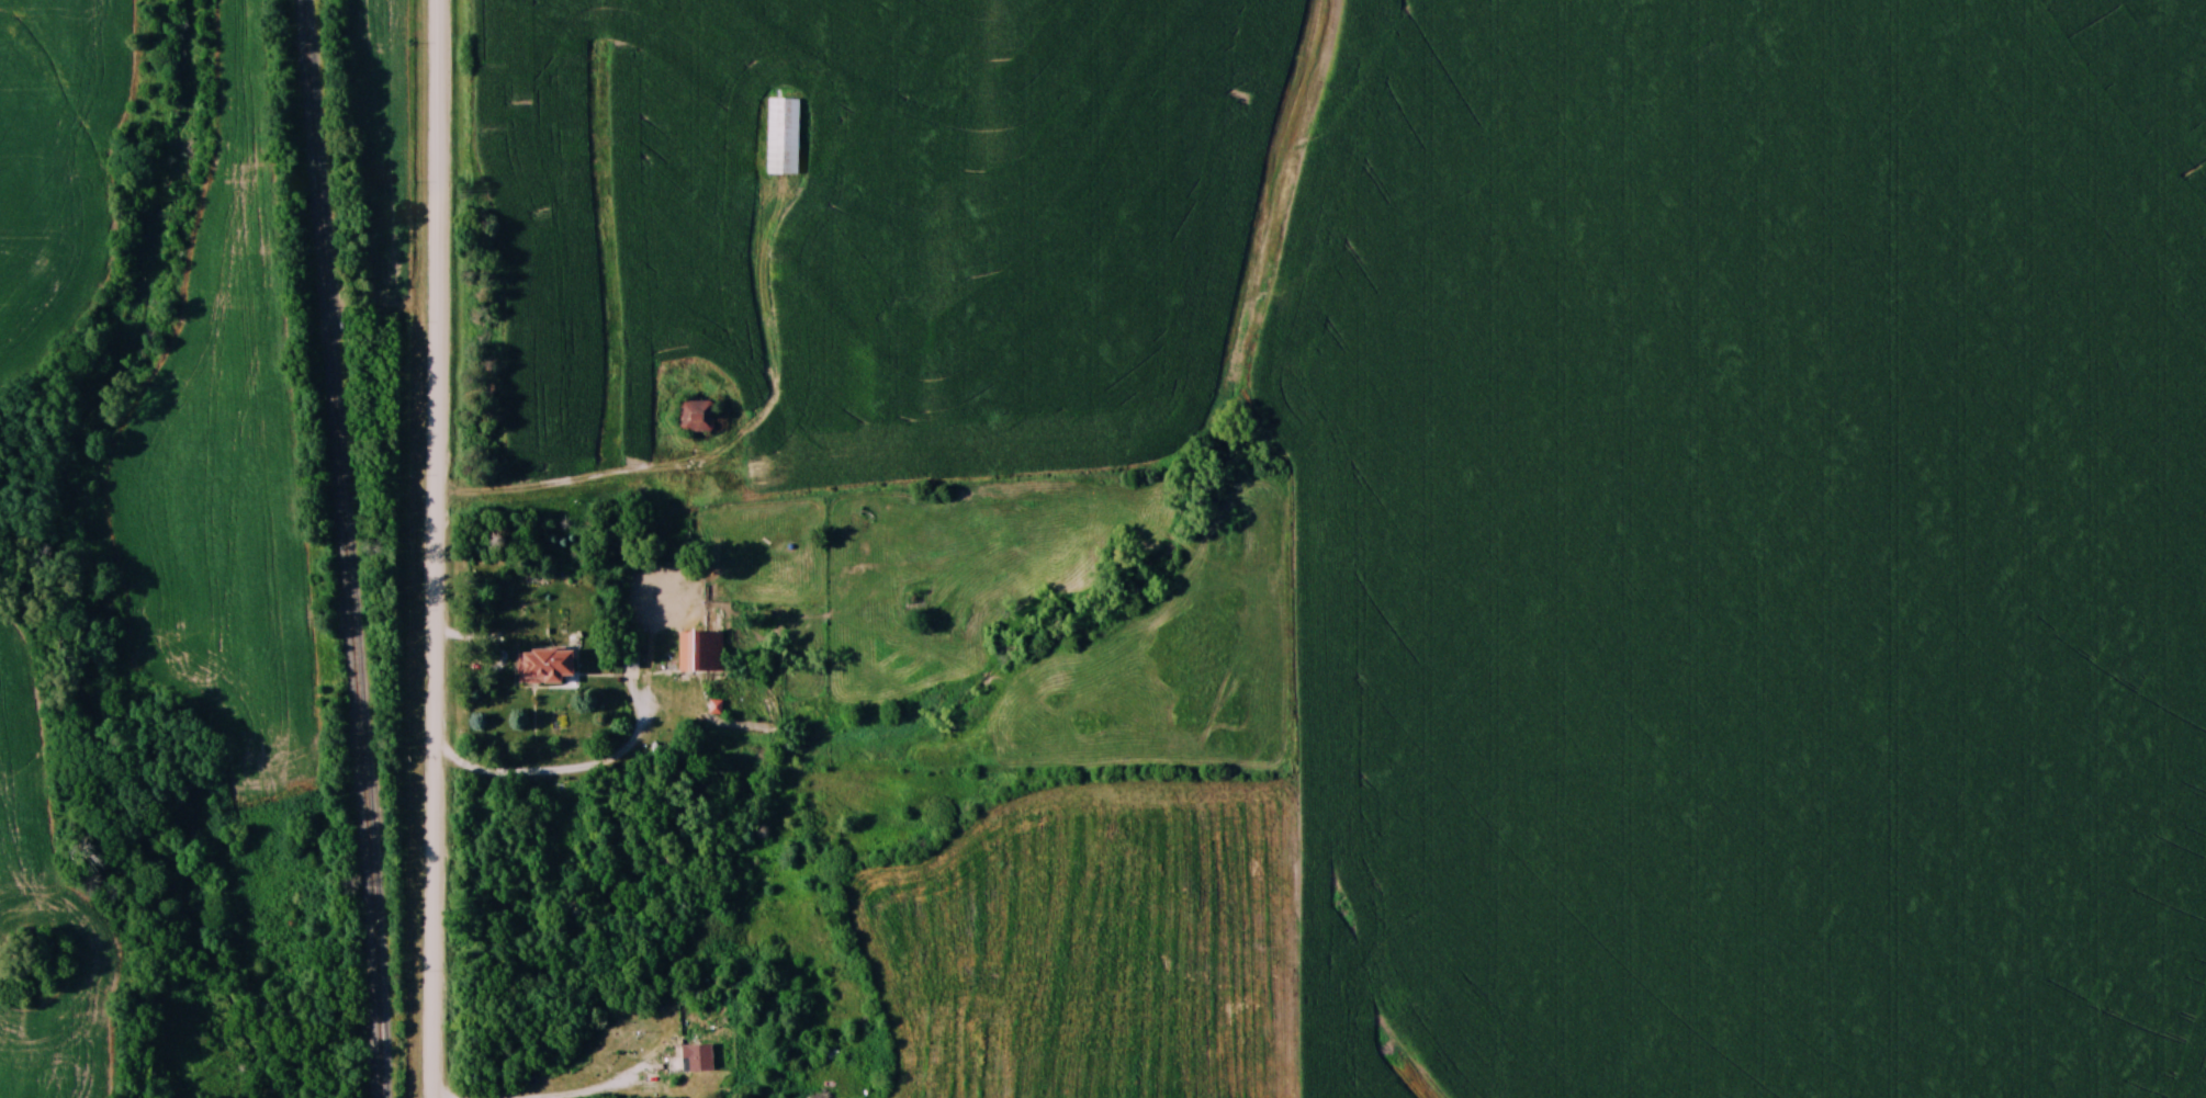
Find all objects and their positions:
building: (781, 135)
building: (695, 415)
road: (578, 486)
railway: (345, 548)
road: (439, 548)
building: (698, 650)
building: (629, 653)
building: (542, 665)
road: (585, 772)
building: (696, 1057)
road: (626, 1083)

